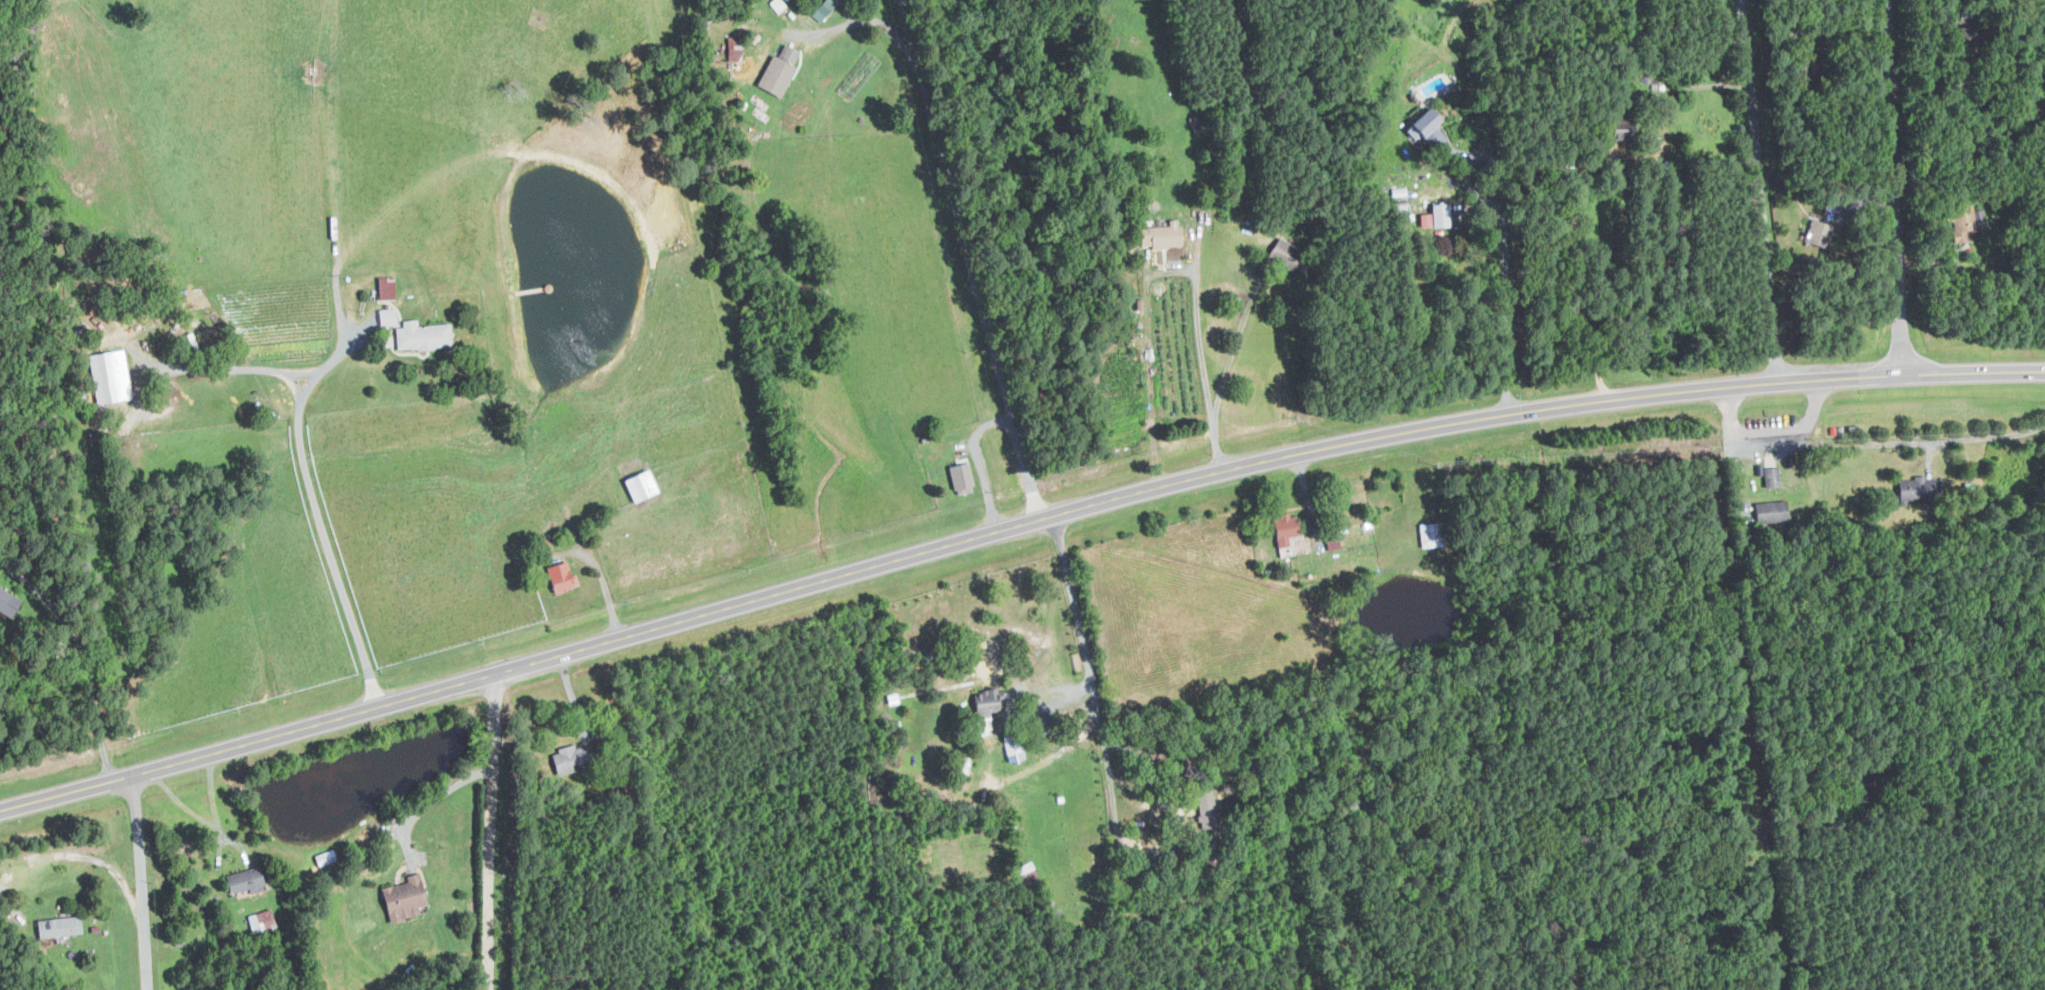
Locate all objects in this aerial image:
building: (776, 3)
building: (822, 7)
building: (733, 48)
building: (781, 71)
building: (1430, 127)
road: (1894, 187)
road: (1756, 191)
building: (1439, 215)
building: (1165, 234)
road: (1504, 242)
road: (969, 260)
road: (1569, 279)
building: (389, 287)
building: (386, 317)
building: (425, 334)
road: (346, 345)
road: (1234, 347)
road: (1202, 360)
road: (229, 367)
building: (110, 376)
road: (1815, 406)
road: (1768, 433)
building: (923, 438)
road: (1922, 443)
building: (962, 475)
building: (1771, 476)
building: (644, 484)
building: (1918, 489)
building: (1770, 511)
road: (1011, 527)
building: (1284, 528)
building: (1431, 534)
building: (1332, 542)
road: (328, 543)
building: (563, 576)
road: (40, 598)
building: (9, 601)
road: (1755, 688)
building: (891, 698)
building: (986, 706)
road: (97, 708)
building: (893, 723)
building: (1047, 728)
building: (1012, 745)
building: (571, 758)
road: (1045, 761)
road: (1108, 782)
building: (1863, 787)
building: (1060, 799)
road: (432, 804)
building: (1205, 809)
road: (210, 824)
road: (1826, 826)
road: (493, 831)
building: (1243, 831)
building: (1214, 839)
building: (1256, 851)
building: (1026, 875)
building: (245, 880)
road: (141, 882)
building: (403, 898)
road: (9, 905)
building: (262, 920)
building: (58, 926)
building: (95, 929)
building: (178, 941)
building: (67, 988)

